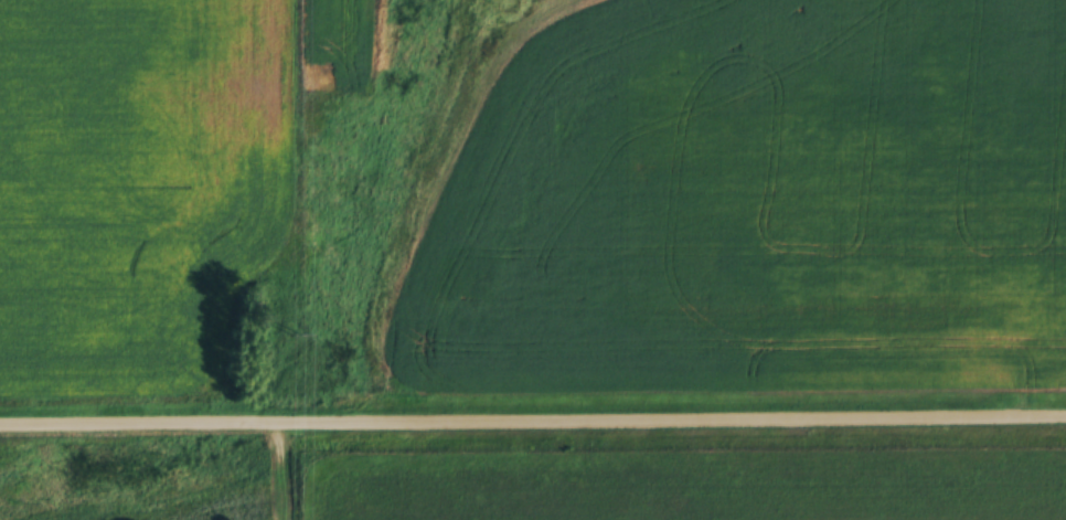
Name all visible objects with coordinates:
power tower: (296, 337)
road: (532, 415)

